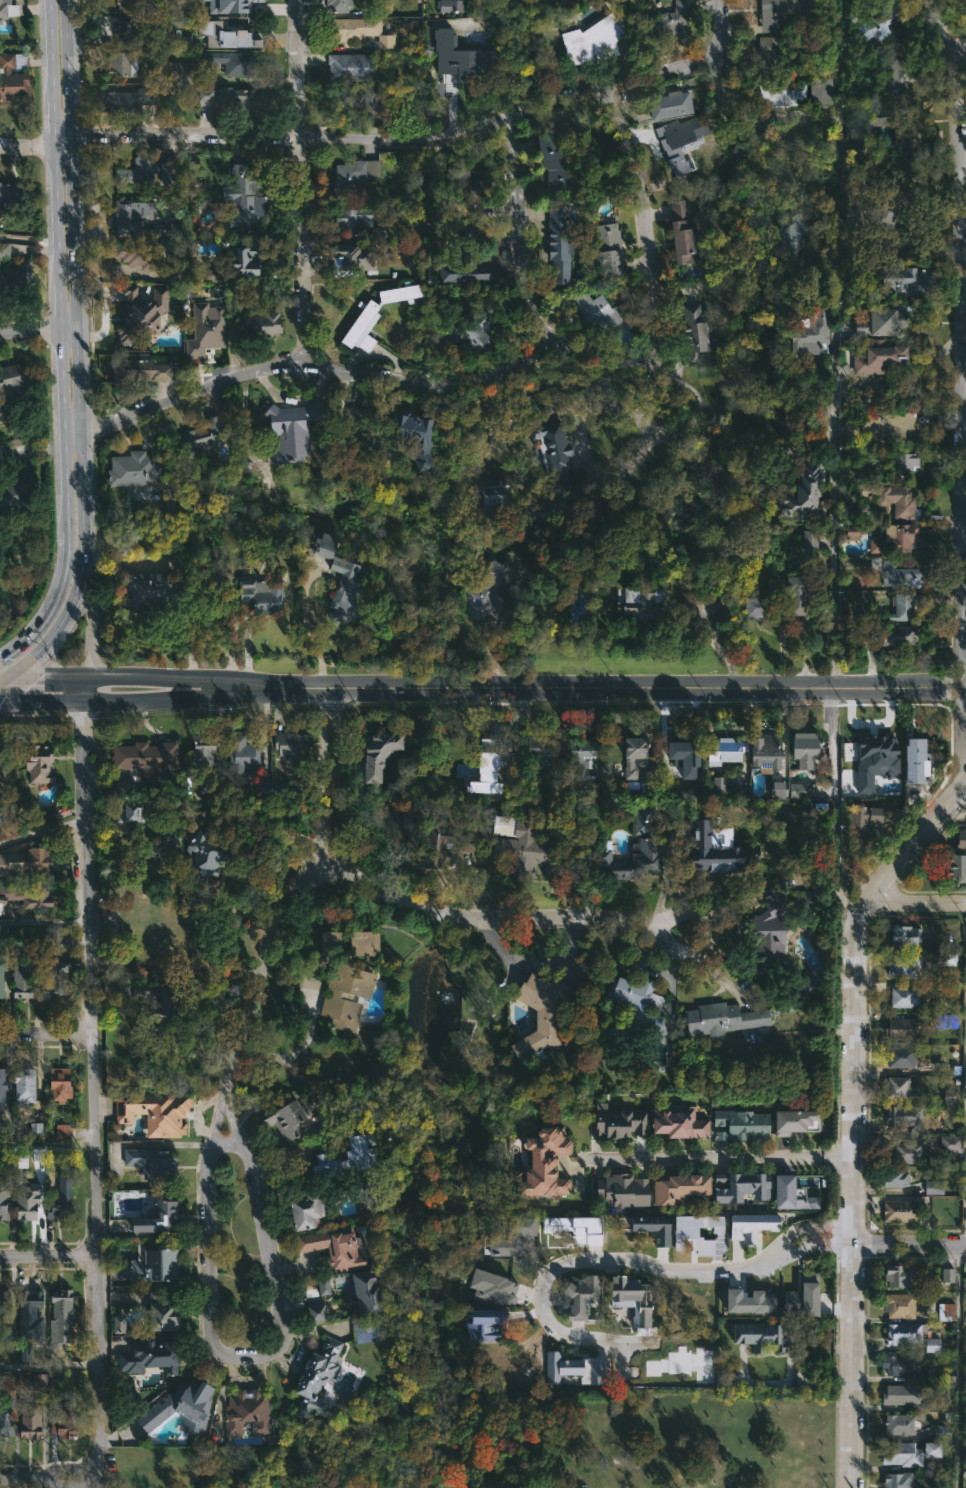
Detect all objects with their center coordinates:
building: (471, 0)
building: (204, 3)
building: (130, 6)
building: (230, 6)
building: (338, 6)
building: (450, 6)
building: (824, 6)
building: (424, 7)
building: (9, 9)
building: (777, 11)
road: (721, 15)
building: (878, 19)
building: (664, 20)
building: (488, 23)
road: (939, 26)
building: (354, 30)
building: (169, 32)
building: (227, 36)
building: (589, 40)
road: (961, 47)
building: (768, 52)
building: (463, 53)
building: (231, 62)
building: (122, 64)
building: (348, 67)
building: (183, 72)
building: (892, 74)
building: (14, 79)
building: (781, 94)
building: (228, 98)
building: (354, 99)
building: (128, 100)
building: (666, 105)
building: (900, 132)
building: (679, 137)
road: (410, 138)
road: (59, 142)
road: (23, 146)
building: (548, 163)
building: (148, 170)
building: (350, 177)
road: (299, 181)
building: (13, 194)
building: (242, 198)
building: (458, 198)
building: (131, 216)
building: (350, 219)
building: (879, 220)
road: (643, 224)
building: (789, 232)
building: (377, 233)
building: (678, 234)
road: (517, 236)
road: (25, 241)
building: (552, 243)
building: (604, 249)
road: (963, 250)
building: (143, 255)
building: (241, 257)
building: (348, 259)
building: (462, 261)
road: (74, 263)
road: (50, 265)
building: (16, 272)
building: (213, 275)
building: (906, 277)
building: (398, 294)
building: (595, 312)
building: (140, 313)
building: (876, 320)
building: (356, 322)
building: (261, 325)
building: (204, 329)
road: (65, 330)
building: (472, 331)
road: (26, 332)
building: (695, 332)
building: (805, 332)
building: (874, 356)
building: (137, 370)
road: (362, 374)
building: (14, 386)
road: (616, 409)
building: (876, 423)
building: (352, 426)
building: (290, 428)
building: (395, 433)
road: (72, 439)
building: (192, 443)
road: (30, 449)
building: (552, 454)
building: (903, 462)
building: (133, 468)
building: (799, 491)
building: (6, 497)
building: (896, 501)
road: (832, 520)
building: (852, 533)
building: (897, 538)
building: (810, 539)
building: (318, 543)
building: (899, 576)
building: (342, 581)
building: (152, 592)
building: (479, 592)
building: (262, 594)
building: (801, 594)
building: (635, 601)
road: (88, 602)
road: (50, 604)
building: (901, 605)
building: (752, 606)
road: (67, 613)
building: (886, 634)
road: (49, 677)
road: (137, 677)
road: (4, 678)
traffic signals: (8, 678)
road: (214, 678)
road: (4, 680)
road: (605, 683)
road: (123, 699)
road: (832, 737)
building: (286, 744)
building: (534, 746)
building: (802, 747)
building: (723, 749)
building: (202, 750)
building: (763, 750)
building: (240, 752)
building: (372, 753)
building: (682, 755)
building: (630, 756)
building: (579, 757)
building: (2, 758)
building: (148, 758)
building: (915, 761)
building: (42, 763)
building: (875, 765)
building: (477, 767)
building: (486, 770)
road: (963, 779)
building: (718, 784)
building: (298, 787)
building: (263, 788)
building: (778, 789)
building: (797, 790)
building: (3, 806)
building: (59, 810)
building: (133, 812)
building: (214, 816)
building: (641, 818)
building: (860, 819)
road: (42, 830)
building: (396, 837)
building: (960, 840)
building: (439, 844)
building: (521, 847)
building: (716, 851)
building: (643, 854)
building: (202, 856)
building: (39, 858)
building: (955, 866)
road: (665, 873)
road: (294, 893)
building: (28, 896)
road: (916, 899)
road: (497, 918)
road: (43, 922)
building: (776, 931)
building: (48, 933)
building: (902, 935)
building: (330, 942)
building: (906, 968)
road: (710, 969)
building: (2, 977)
building: (57, 979)
building: (24, 981)
building: (341, 981)
building: (908, 994)
building: (158, 1002)
building: (633, 1010)
building: (536, 1013)
building: (720, 1018)
building: (945, 1021)
building: (899, 1028)
road: (45, 1034)
building: (899, 1056)
building: (372, 1069)
road: (854, 1071)
building: (61, 1082)
road: (91, 1082)
building: (27, 1087)
building: (894, 1087)
building: (3, 1090)
building: (948, 1096)
building: (343, 1101)
building: (158, 1111)
building: (904, 1117)
building: (284, 1120)
building: (618, 1121)
building: (795, 1122)
building: (677, 1123)
building: (737, 1125)
building: (36, 1129)
building: (63, 1131)
road: (46, 1143)
building: (949, 1144)
building: (903, 1152)
building: (343, 1156)
road: (719, 1157)
building: (152, 1164)
building: (543, 1164)
building: (894, 1177)
building: (739, 1187)
building: (933, 1187)
building: (622, 1190)
building: (676, 1190)
building: (790, 1194)
building: (5, 1200)
building: (64, 1200)
building: (31, 1202)
building: (303, 1210)
building: (898, 1211)
building: (153, 1216)
building: (751, 1226)
building: (574, 1228)
building: (653, 1228)
road: (802, 1233)
building: (699, 1234)
building: (513, 1237)
road: (909, 1244)
road: (804, 1245)
building: (328, 1249)
road: (48, 1257)
road: (573, 1258)
building: (151, 1265)
building: (897, 1275)
building: (947, 1275)
building: (964, 1283)
building: (323, 1286)
building: (358, 1288)
building: (494, 1288)
building: (159, 1295)
building: (803, 1296)
building: (580, 1297)
building: (632, 1299)
building: (6, 1300)
building: (748, 1302)
building: (898, 1304)
building: (34, 1306)
building: (316, 1312)
building: (946, 1312)
building: (64, 1314)
building: (160, 1315)
building: (119, 1324)
building: (487, 1325)
road: (212, 1326)
building: (904, 1332)
building: (760, 1334)
building: (7, 1338)
building: (932, 1345)
building: (24, 1353)
building: (150, 1356)
road: (48, 1365)
building: (898, 1365)
road: (956, 1365)
building: (576, 1369)
building: (313, 1373)
building: (938, 1375)
building: (896, 1394)
building: (176, 1407)
building: (247, 1412)
building: (8, 1417)
building: (33, 1422)
building: (67, 1423)
building: (898, 1425)
building: (942, 1431)
park: (518, 1445)
building: (907, 1452)
road: (49, 1478)
building: (896, 1480)

